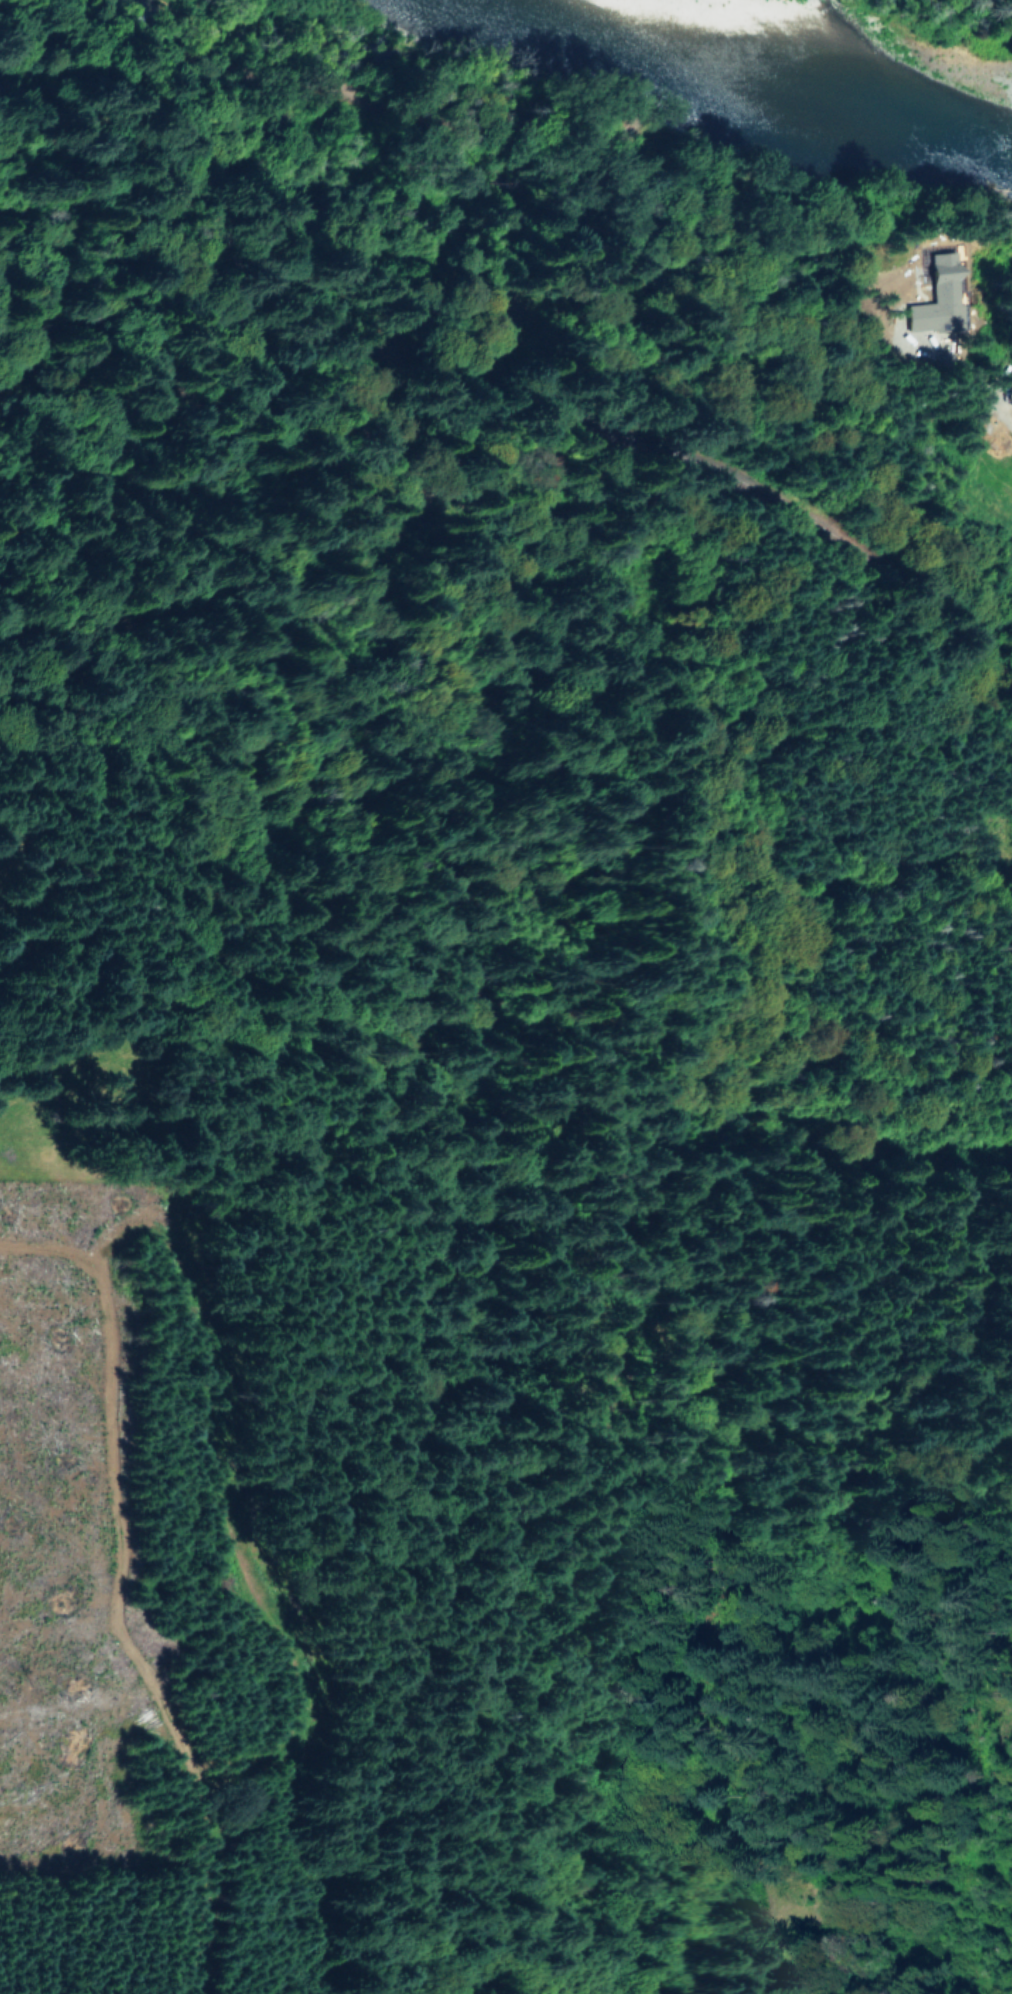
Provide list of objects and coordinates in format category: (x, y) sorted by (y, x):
river: (802, 79)
building: (936, 297)
railway: (509, 384)
road: (988, 399)
road: (946, 1160)
road: (801, 1992)

